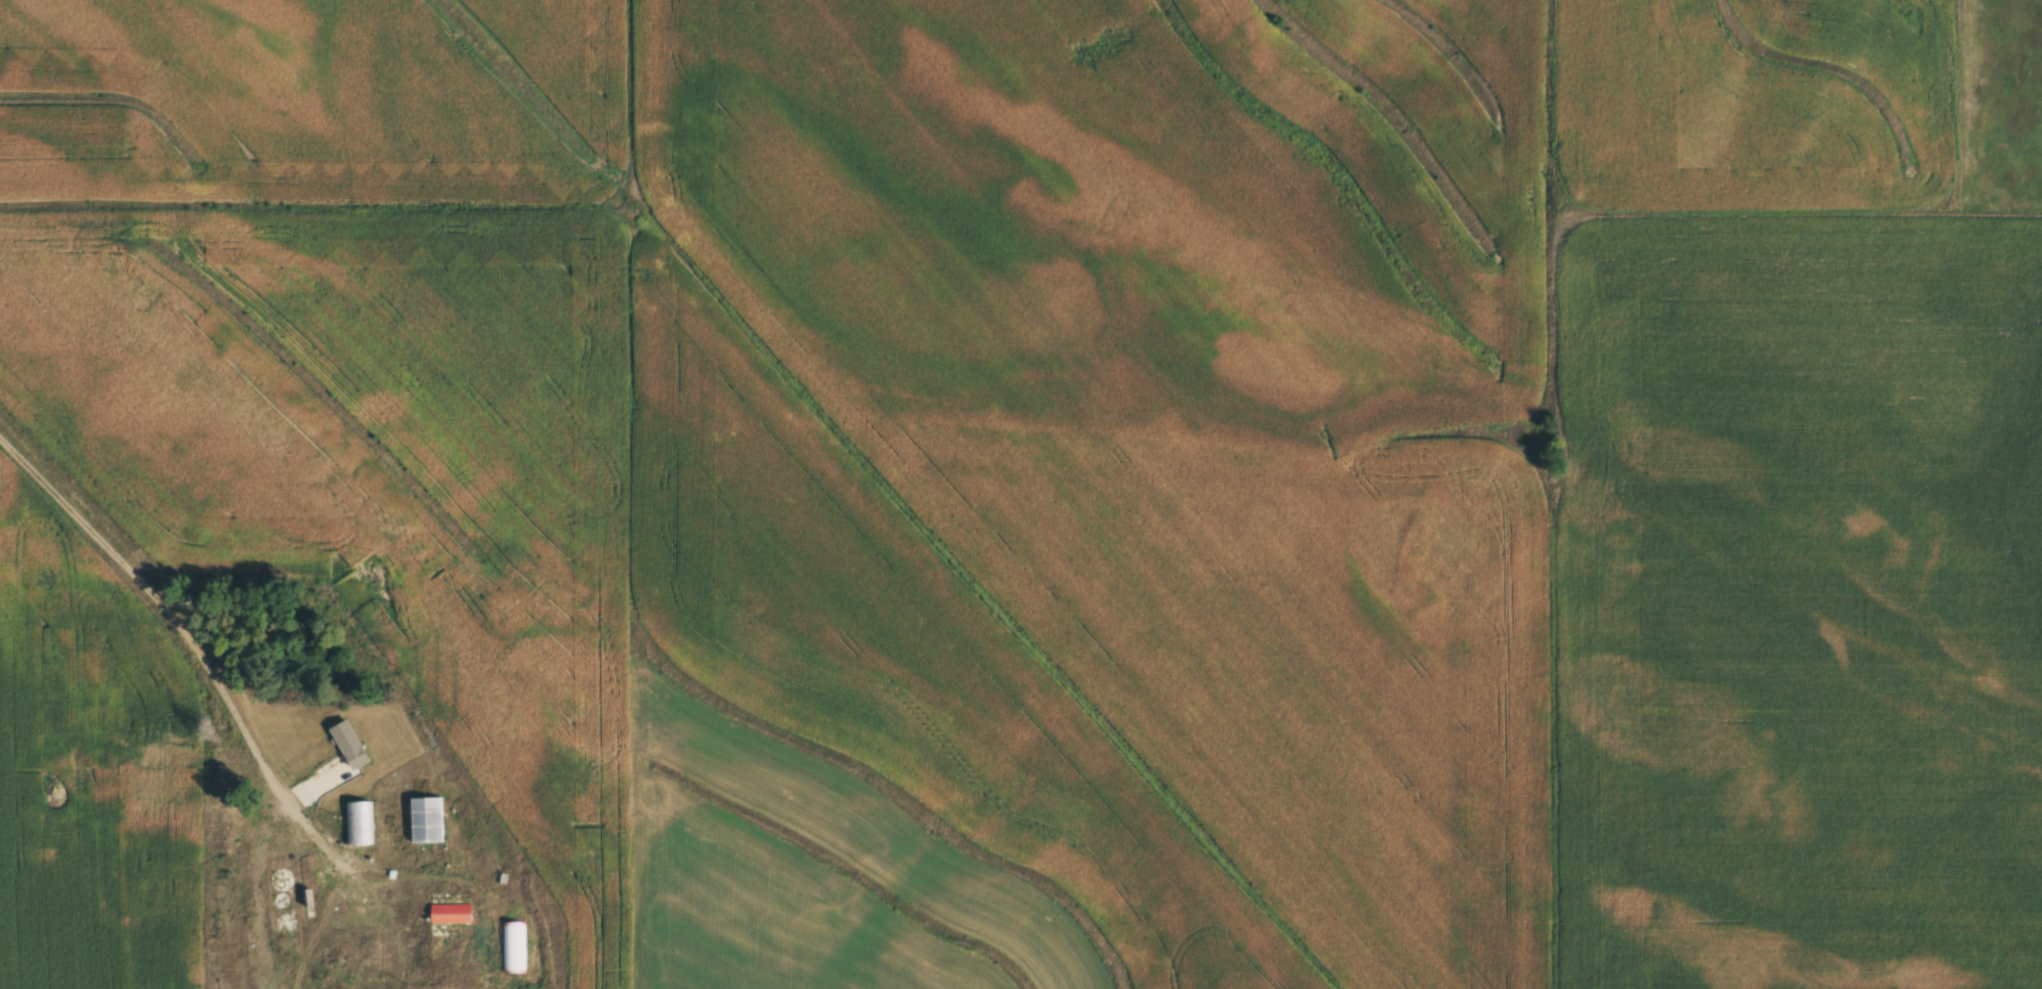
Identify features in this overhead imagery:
road: (172, 611)
building: (349, 744)
building: (426, 819)
building: (359, 822)
building: (281, 880)
building: (451, 912)
building: (287, 923)

